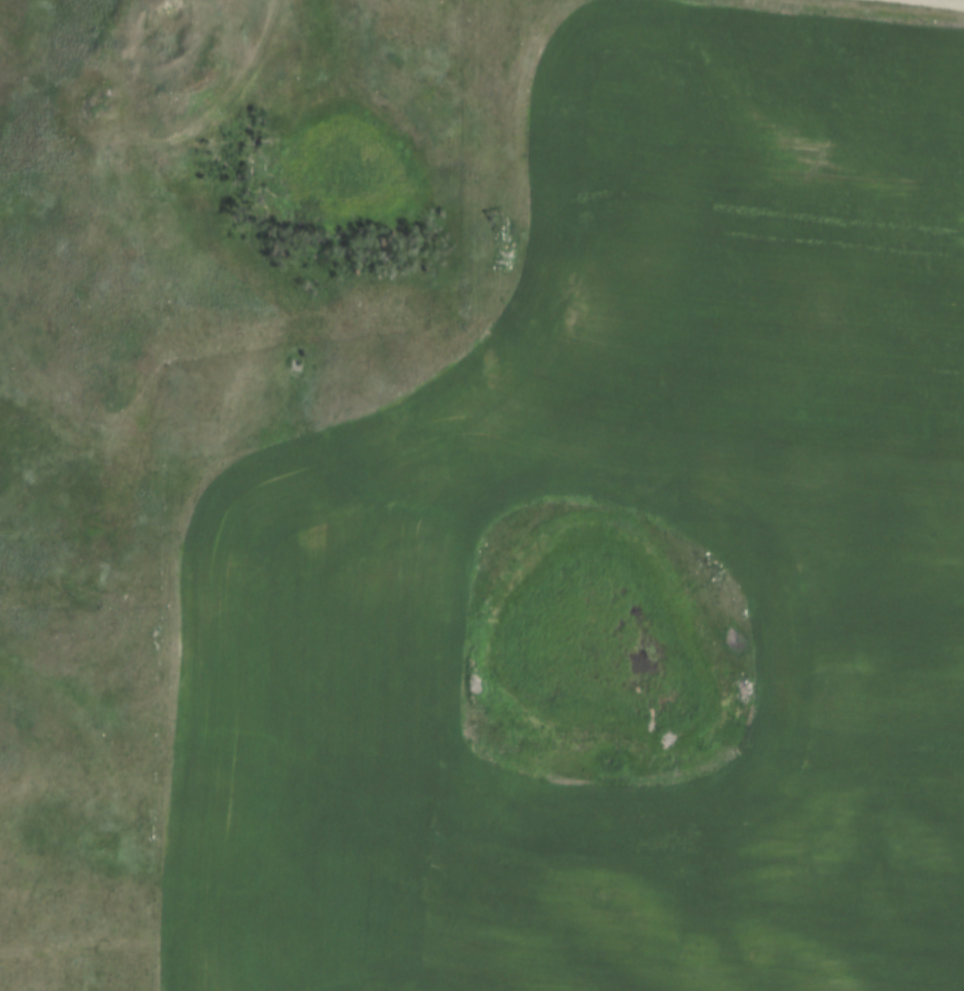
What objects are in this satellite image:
road: (954, 0)

